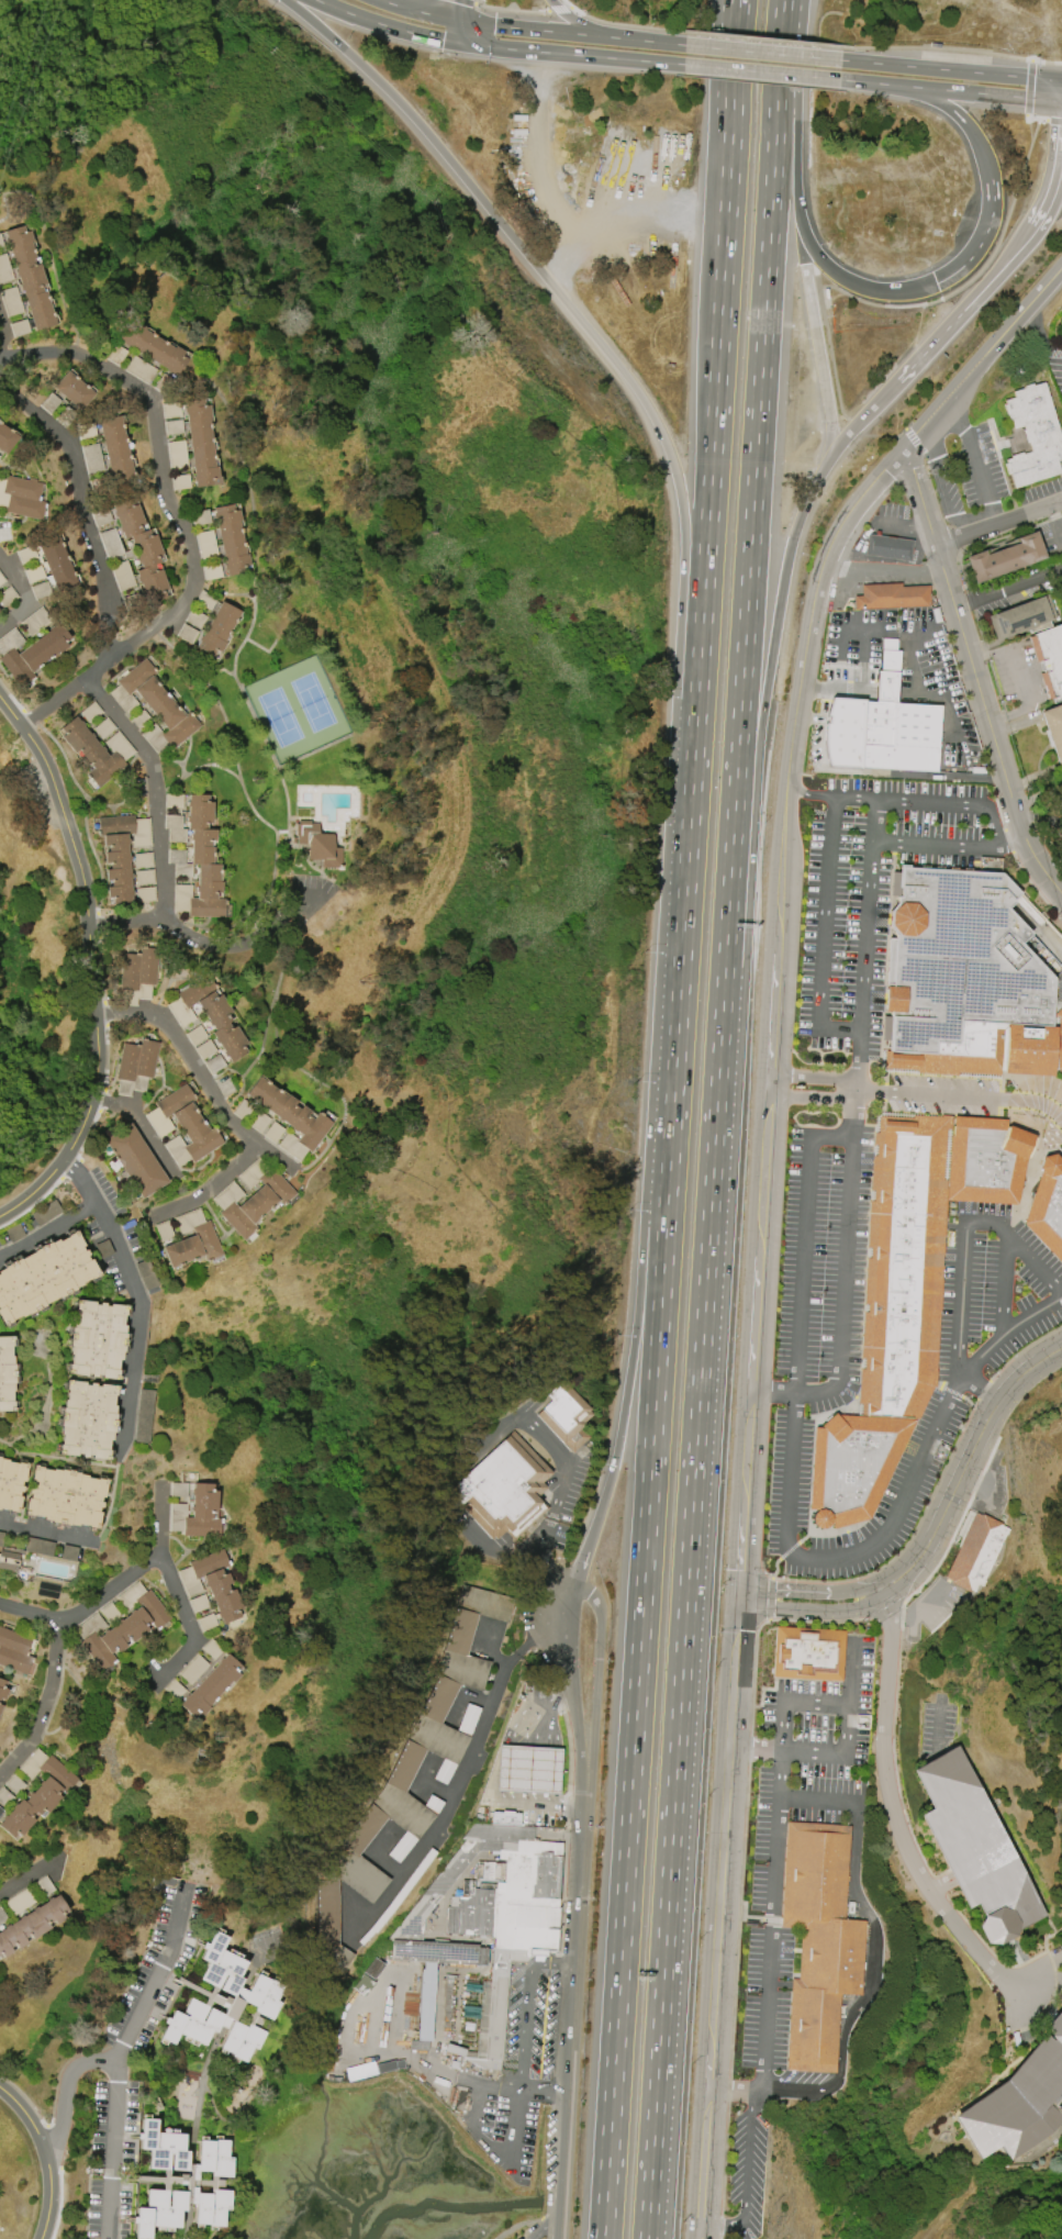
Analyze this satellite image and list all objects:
road: (474, 2)
road: (569, 4)
road: (515, 8)
road: (560, 9)
road: (460, 11)
road: (417, 13)
traffic signals: (462, 23)
road: (627, 24)
road: (586, 26)
road: (391, 30)
road: (546, 31)
road: (466, 35)
road: (762, 37)
road: (657, 42)
traffic signals: (473, 47)
road: (951, 47)
road: (762, 53)
road: (578, 55)
road: (944, 69)
road: (761, 71)
traffic signals: (1050, 79)
road: (1055, 79)
road: (861, 81)
road: (1057, 83)
road: (725, 86)
road: (734, 86)
road: (1028, 88)
road: (972, 92)
road: (795, 108)
road: (1032, 119)
road: (1050, 121)
road: (549, 171)
road: (1053, 179)
road: (647, 207)
road: (770, 219)
road: (515, 242)
building: (1, 243)
road: (980, 253)
building: (4, 268)
road: (973, 272)
building: (30, 278)
building: (10, 301)
road: (961, 311)
building: (19, 327)
road: (7, 335)
building: (153, 347)
road: (817, 347)
road: (718, 350)
building: (116, 355)
road: (985, 361)
building: (139, 369)
building: (163, 383)
road: (835, 385)
building: (74, 389)
building: (49, 402)
building: (170, 410)
building: (66, 415)
building: (172, 426)
road: (850, 430)
building: (86, 431)
building: (1033, 435)
building: (7, 438)
building: (200, 443)
building: (116, 452)
building: (176, 454)
building: (92, 457)
road: (976, 461)
building: (180, 481)
building: (98, 483)
road: (941, 486)
building: (3, 497)
building: (23, 497)
road: (89, 501)
building: (200, 516)
road: (182, 521)
road: (903, 523)
road: (998, 524)
road: (1057, 524)
building: (231, 539)
building: (111, 543)
building: (205, 544)
building: (887, 547)
building: (142, 549)
building: (26, 554)
building: (1004, 557)
building: (56, 562)
road: (886, 566)
building: (212, 571)
building: (34, 573)
building: (122, 576)
building: (1, 580)
road: (1009, 587)
building: (41, 590)
road: (35, 593)
building: (891, 595)
building: (7, 597)
building: (205, 600)
building: (132, 602)
building: (0, 610)
road: (691, 610)
road: (703, 613)
building: (1021, 616)
building: (195, 619)
building: (35, 622)
building: (217, 630)
building: (187, 634)
road: (867, 647)
building: (30, 651)
road: (744, 655)
building: (1050, 657)
road: (768, 673)
road: (1019, 675)
road: (975, 676)
road: (904, 694)
building: (153, 705)
building: (90, 712)
building: (141, 720)
building: (102, 728)
building: (1053, 728)
building: (893, 739)
building: (96, 751)
road: (160, 788)
road: (1038, 794)
road: (808, 798)
building: (174, 800)
road: (952, 804)
road: (1038, 817)
building: (175, 827)
building: (317, 844)
road: (951, 847)
building: (121, 850)
building: (143, 860)
building: (179, 862)
building: (201, 864)
building: (144, 877)
building: (145, 894)
parking lot: (871, 895)
road: (682, 931)
road: (824, 932)
road: (211, 942)
building: (963, 961)
road: (94, 962)
building: (137, 973)
road: (773, 1003)
building: (209, 1014)
building: (197, 1034)
building: (1059, 1041)
building: (205, 1049)
building: (985, 1054)
building: (214, 1063)
building: (135, 1066)
road: (813, 1079)
parking lot: (949, 1095)
road: (960, 1098)
road: (812, 1101)
road: (226, 1107)
building: (243, 1109)
building: (290, 1117)
road: (851, 1118)
building: (259, 1122)
road: (143, 1124)
building: (182, 1125)
building: (273, 1132)
parking lot: (1057, 1134)
building: (135, 1160)
building: (251, 1198)
building: (1049, 1208)
building: (44, 1213)
road: (966, 1228)
road: (48, 1230)
building: (164, 1232)
building: (192, 1240)
road: (652, 1245)
road: (663, 1251)
road: (1035, 1268)
building: (43, 1277)
road: (137, 1291)
building: (908, 1293)
building: (97, 1339)
parking lot: (990, 1340)
road: (992, 1347)
building: (5, 1373)
building: (566, 1415)
building: (144, 1416)
road: (506, 1418)
building: (87, 1419)
road: (614, 1458)
road: (965, 1466)
road: (792, 1467)
building: (11, 1483)
building: (178, 1489)
building: (504, 1489)
building: (65, 1496)
building: (197, 1513)
road: (46, 1528)
building: (1, 1537)
building: (40, 1546)
building: (68, 1552)
building: (976, 1552)
road: (689, 1556)
building: (9, 1560)
building: (212, 1583)
traffic signals: (741, 1586)
road: (112, 1589)
road: (811, 1590)
road: (741, 1594)
traffic signals: (741, 1602)
road: (177, 1603)
building: (198, 1603)
road: (814, 1606)
building: (110, 1613)
building: (206, 1622)
building: (122, 1625)
building: (211, 1649)
building: (14, 1650)
building: (808, 1652)
road: (597, 1664)
building: (192, 1669)
road: (571, 1669)
building: (211, 1686)
building: (175, 1689)
building: (2, 1690)
building: (0, 1705)
road: (45, 1707)
road: (470, 1752)
road: (842, 1752)
building: (532, 1769)
road: (493, 1771)
building: (410, 1773)
building: (14, 1784)
road: (629, 1787)
building: (36, 1792)
building: (4, 1797)
road: (817, 1804)
building: (1, 1811)
road: (895, 1817)
building: (974, 1847)
road: (775, 1861)
road: (23, 1880)
building: (44, 1886)
building: (21, 1901)
building: (2, 1916)
road: (720, 1919)
building: (494, 1920)
building: (31, 1924)
building: (820, 1942)
building: (372, 1968)
road: (869, 1983)
road: (574, 1994)
parking lot: (765, 1996)
building: (224, 2003)
road: (528, 2003)
building: (424, 2024)
road: (121, 2057)
building: (364, 2071)
road: (67, 2088)
road: (544, 2088)
road: (737, 2090)
building: (1019, 2102)
road: (489, 2142)
road: (45, 2153)
road: (748, 2175)
building: (180, 2181)
road: (545, 2221)

